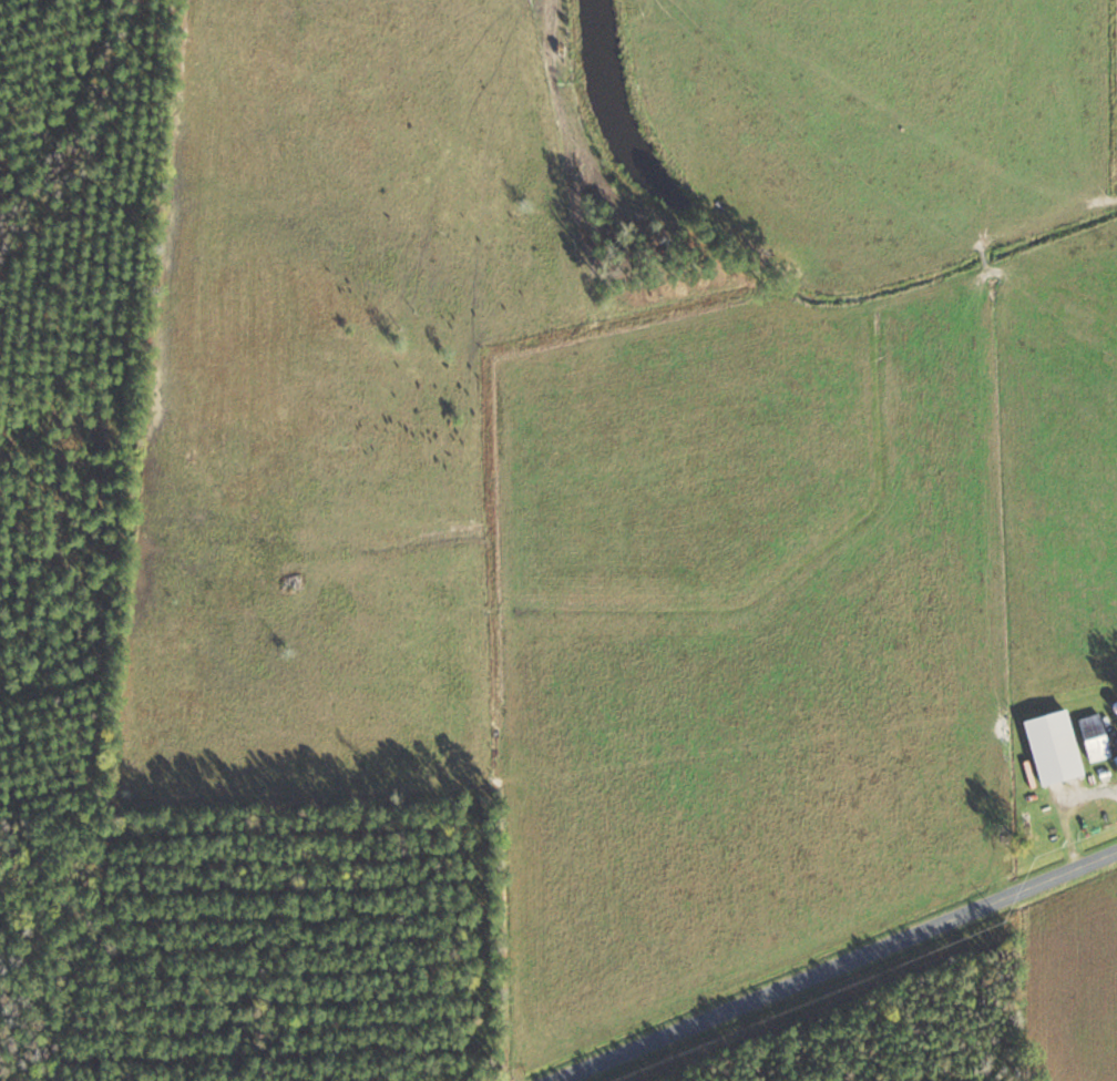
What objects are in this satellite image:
building: (1094, 738)
building: (1052, 748)
road: (829, 962)

